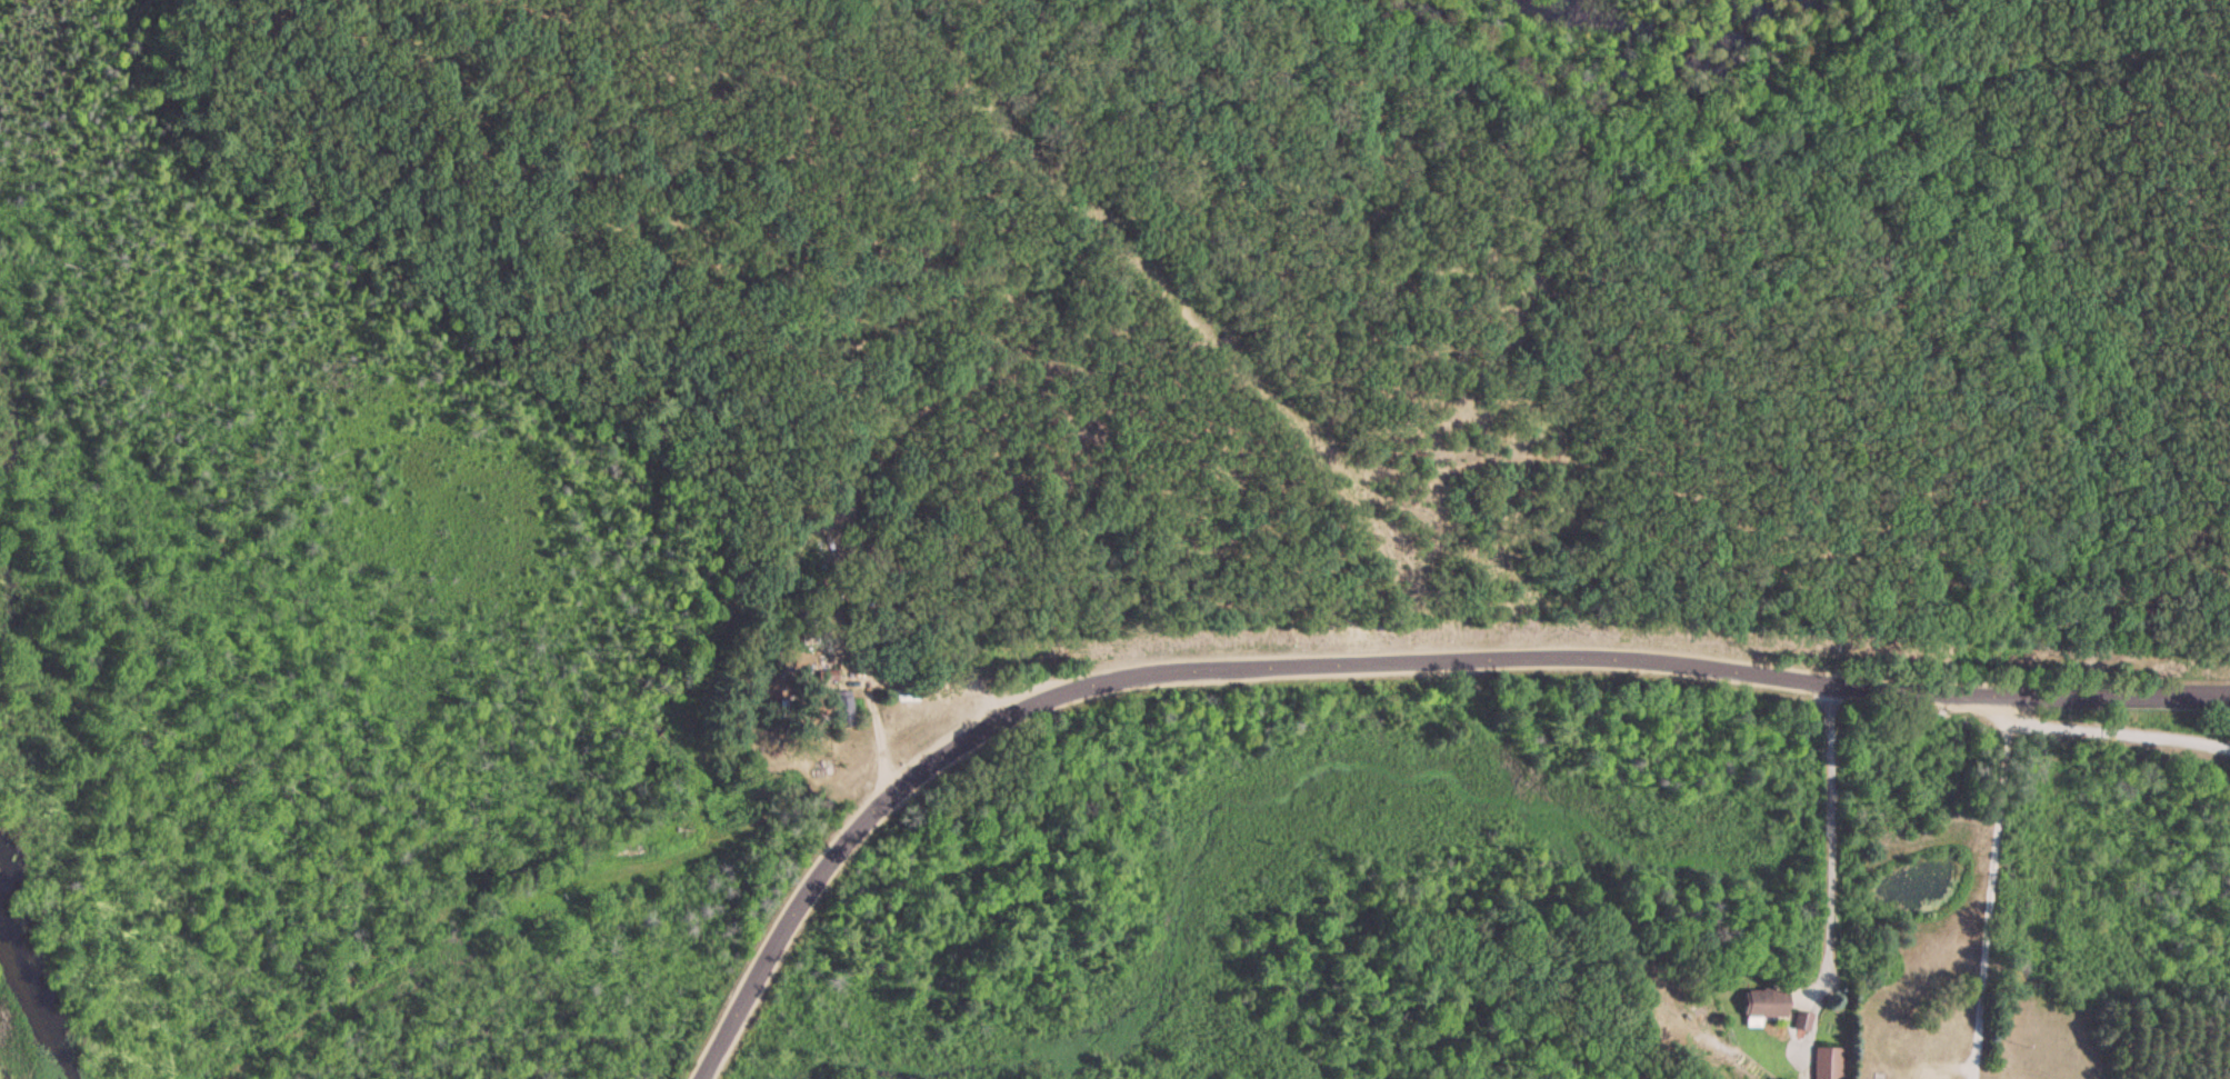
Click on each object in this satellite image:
building: (2102, 612)
road: (1370, 657)
road: (940, 679)
road: (878, 726)
road: (2102, 741)
road: (1830, 823)
road: (1989, 885)
building: (1761, 1003)
building: (1801, 1019)
building: (1827, 1062)

